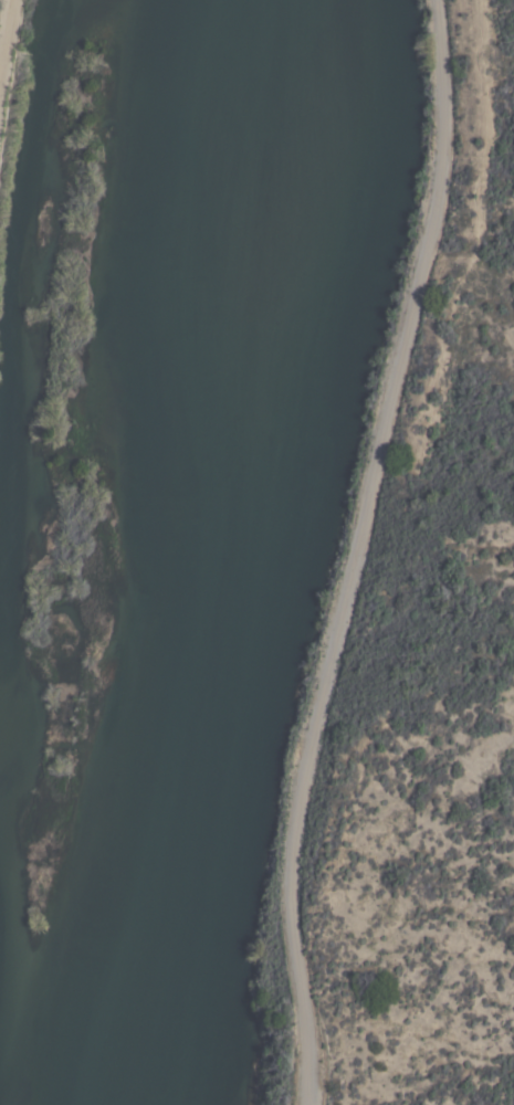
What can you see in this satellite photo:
river: (167, 552)

